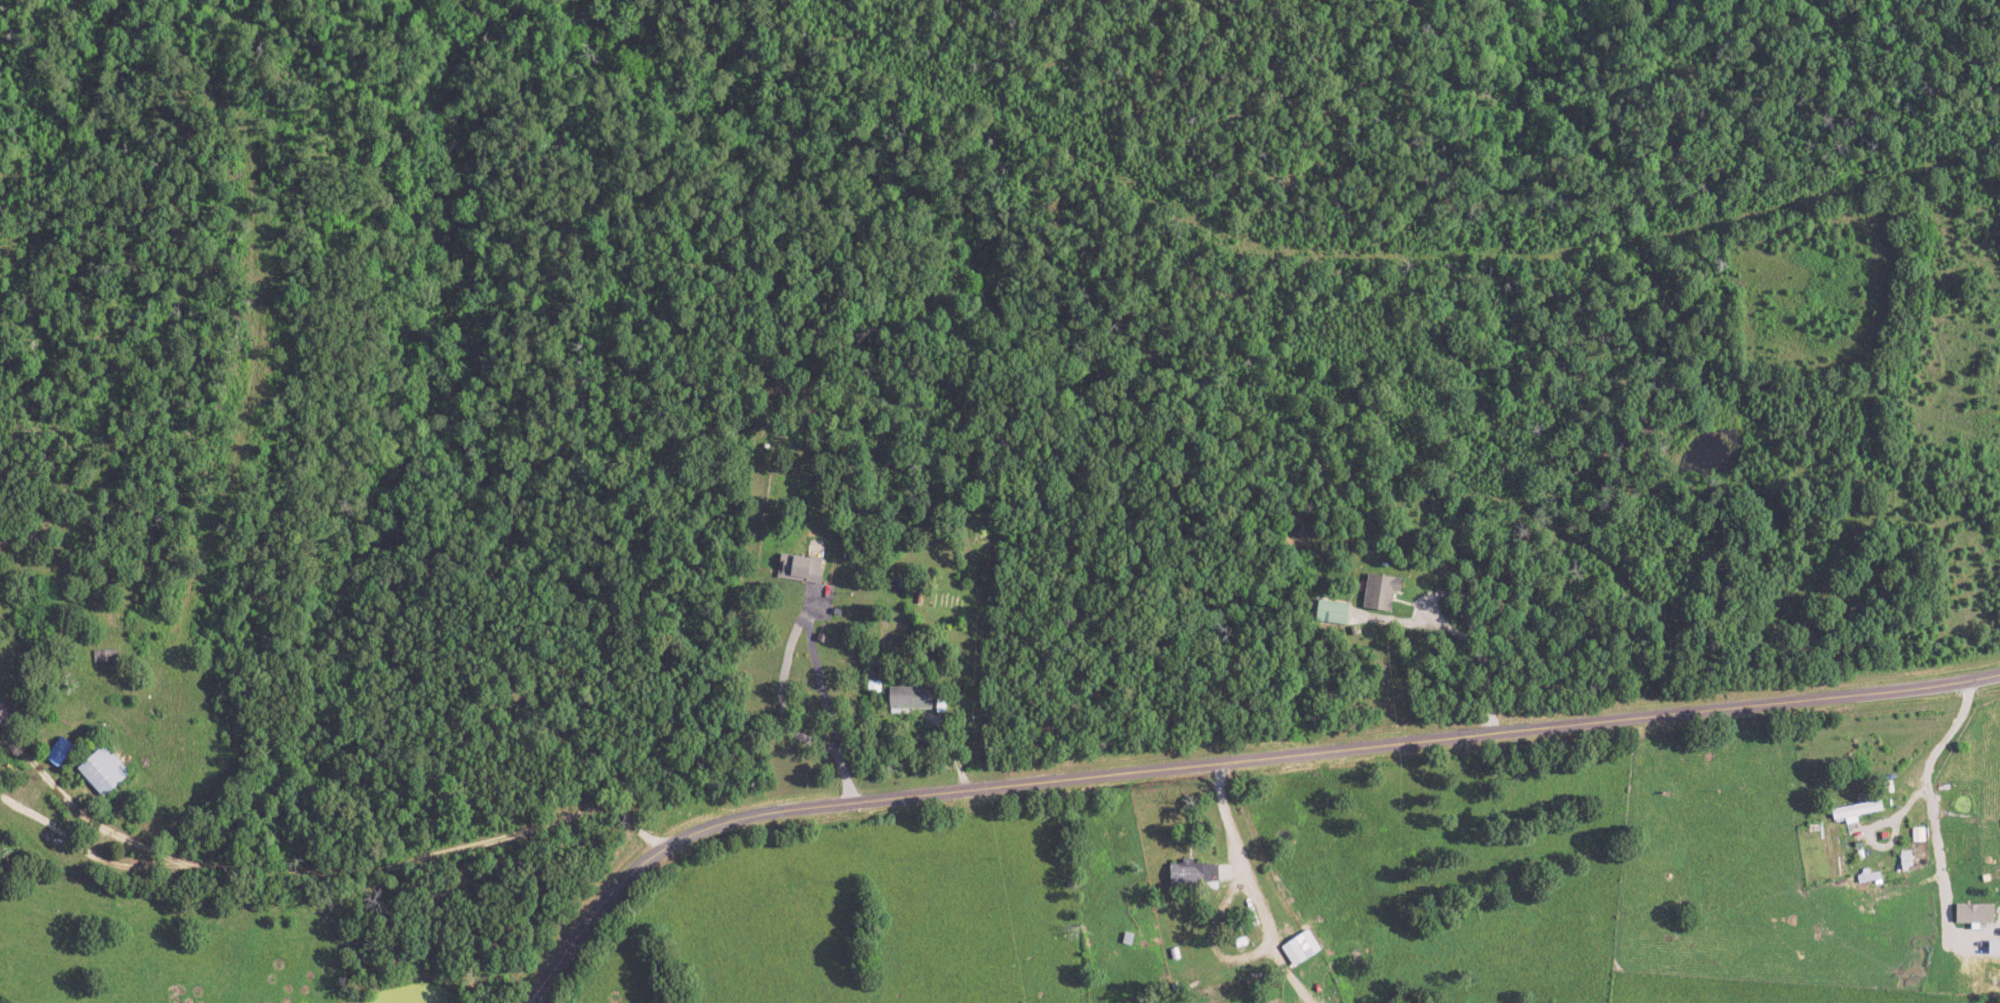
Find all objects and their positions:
building: (799, 567)
building: (1379, 592)
building: (1330, 612)
building: (908, 697)
building: (2, 709)
building: (58, 751)
road: (1226, 762)
building: (102, 771)
building: (1855, 811)
building: (1919, 835)
building: (1906, 860)
building: (1191, 874)
building: (1973, 914)
building: (1300, 948)

